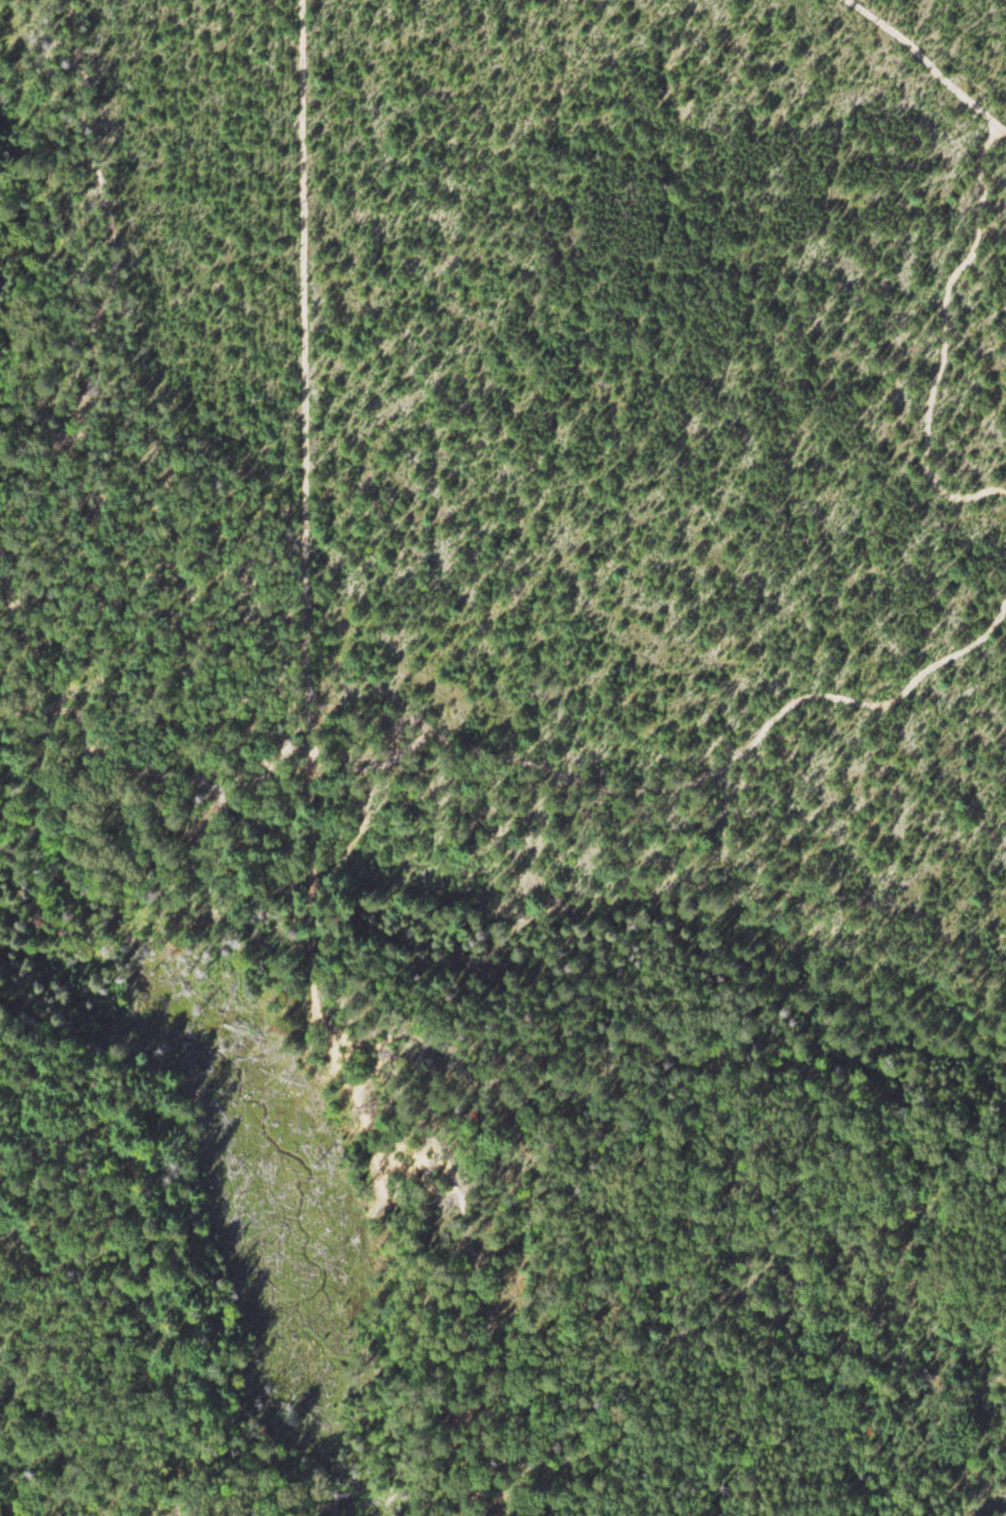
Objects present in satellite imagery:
road: (930, 62)
road: (939, 340)
road: (306, 621)
road: (200, 787)

